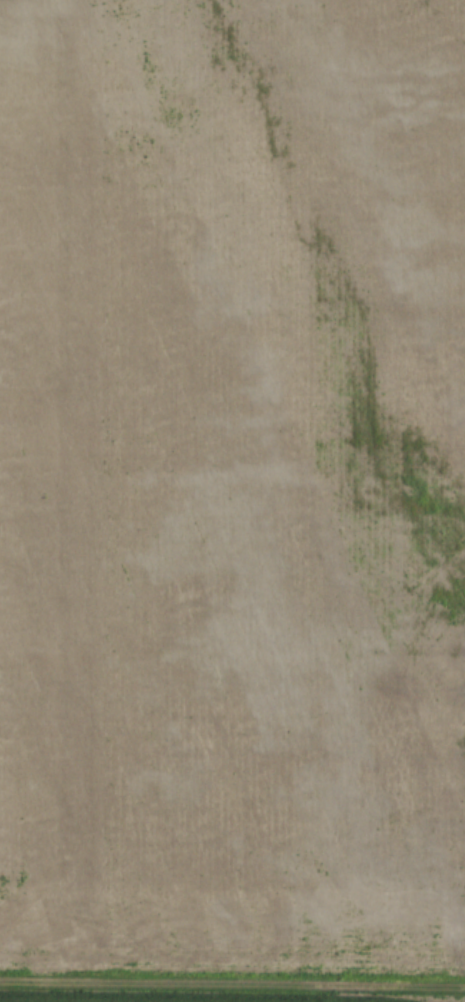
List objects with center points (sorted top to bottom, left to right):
road: (232, 988)

